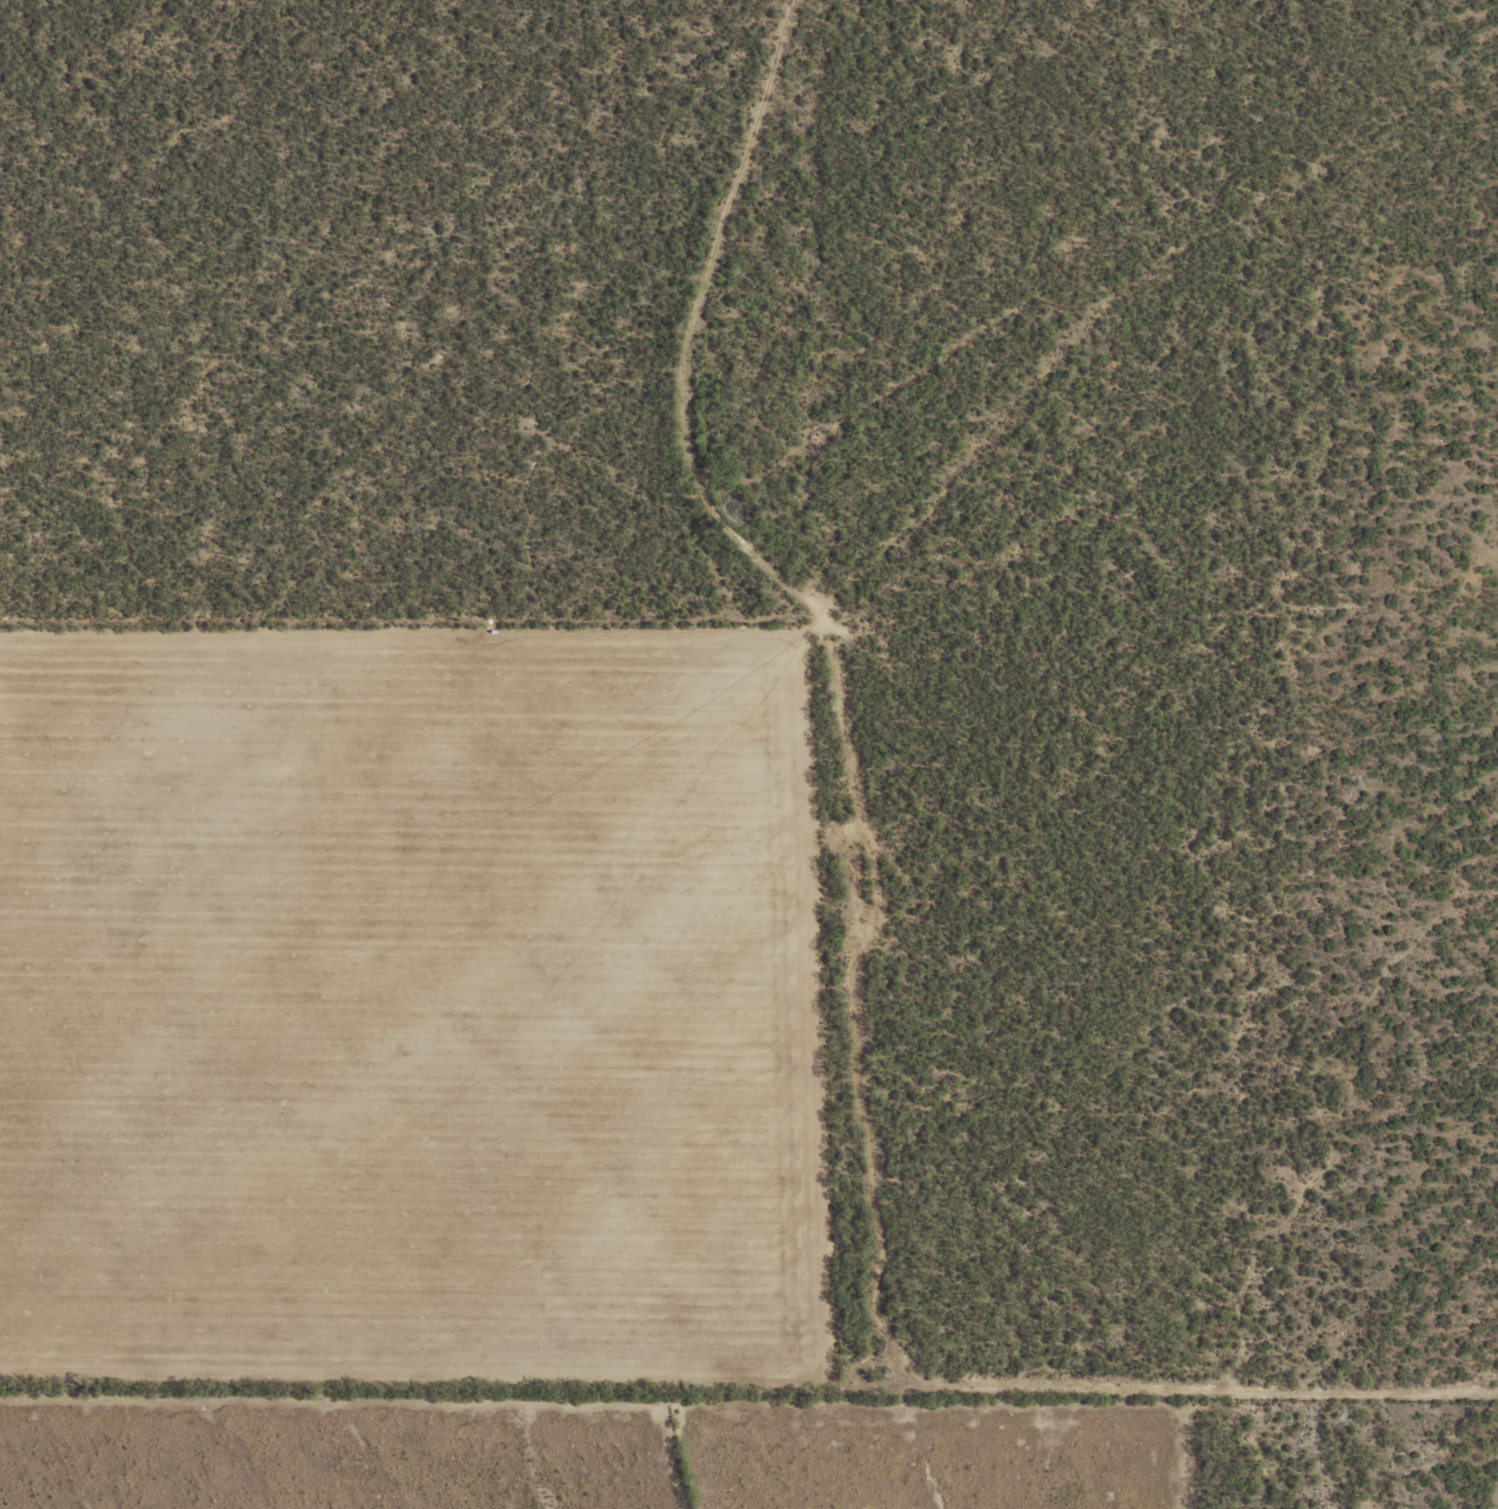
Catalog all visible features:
road: (1182, 646)

